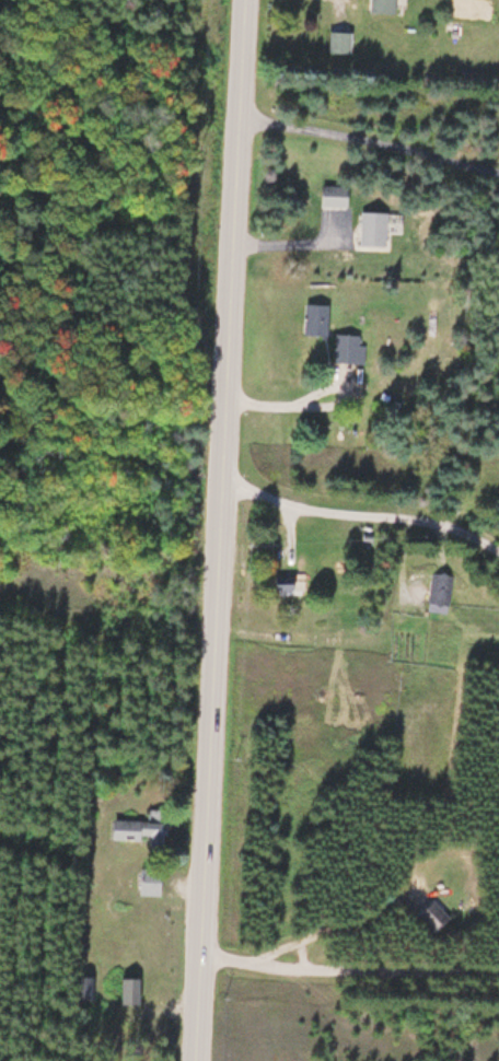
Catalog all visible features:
building: (381, 5)
building: (340, 40)
road: (111, 53)
building: (336, 194)
building: (376, 228)
building: (317, 318)
road: (362, 343)
building: (350, 348)
road: (224, 529)
building: (286, 582)
building: (442, 591)
building: (135, 830)
building: (147, 881)
building: (430, 916)
road: (350, 970)
building: (85, 987)
building: (129, 989)

